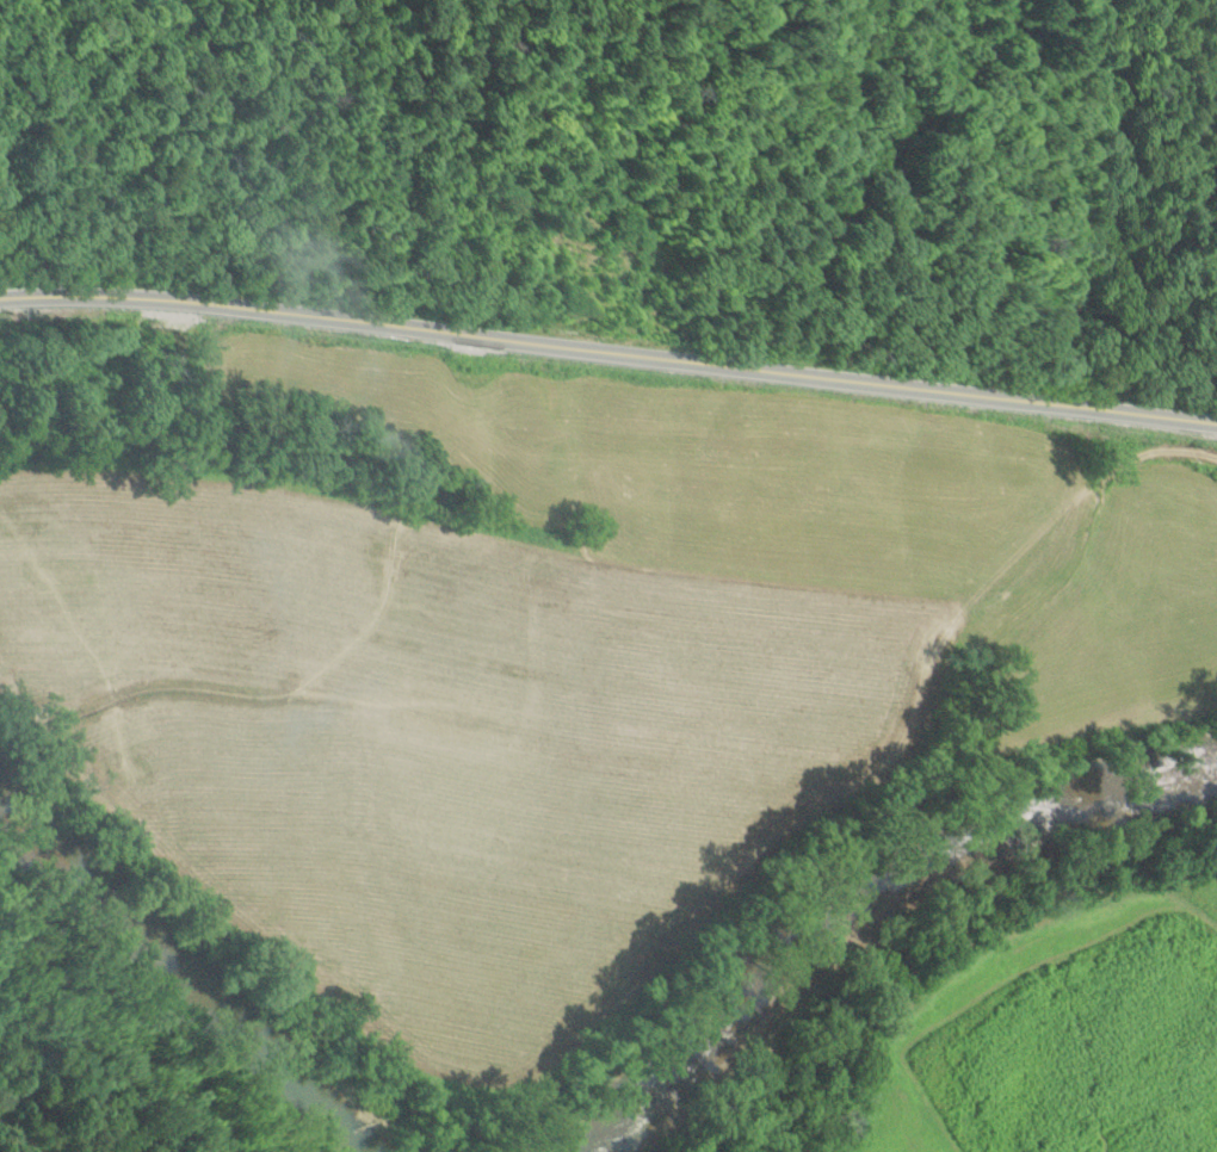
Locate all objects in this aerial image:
road: (608, 351)
river: (867, 894)
river: (177, 977)

